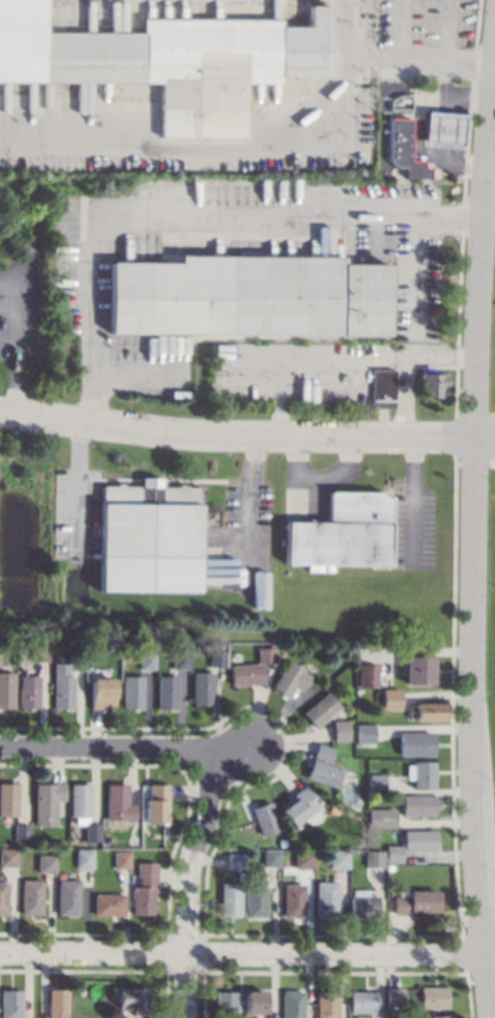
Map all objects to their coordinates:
parking lot: (427, 26)
road: (400, 32)
road: (447, 32)
building: (169, 60)
road: (388, 63)
building: (398, 103)
building: (442, 129)
road: (214, 145)
building: (402, 149)
road: (488, 207)
road: (265, 215)
road: (449, 218)
road: (417, 277)
building: (248, 296)
road: (85, 311)
road: (15, 346)
road: (305, 358)
road: (402, 358)
road: (442, 358)
building: (431, 384)
building: (382, 388)
road: (410, 396)
road: (246, 434)
road: (320, 475)
road: (78, 482)
road: (415, 495)
building: (342, 533)
road: (472, 535)
building: (148, 537)
building: (37, 653)
building: (264, 655)
building: (215, 658)
building: (144, 659)
building: (178, 660)
building: (74, 661)
building: (417, 670)
building: (246, 675)
building: (367, 675)
building: (288, 677)
building: (60, 686)
building: (201, 687)
building: (5, 690)
building: (25, 690)
building: (131, 692)
building: (166, 692)
building: (100, 693)
building: (389, 699)
building: (320, 709)
building: (427, 711)
building: (339, 730)
building: (363, 733)
building: (414, 744)
road: (234, 745)
road: (112, 747)
building: (322, 768)
building: (421, 774)
building: (375, 784)
building: (8, 798)
building: (79, 799)
building: (46, 801)
building: (118, 802)
building: (299, 805)
building: (418, 805)
building: (155, 806)
building: (264, 818)
building: (381, 818)
building: (21, 832)
building: (92, 832)
building: (419, 840)
building: (283, 851)
building: (393, 853)
building: (8, 857)
building: (270, 857)
building: (83, 858)
building: (373, 858)
building: (121, 859)
building: (338, 859)
building: (303, 860)
building: (234, 861)
building: (45, 863)
building: (388, 866)
building: (58, 874)
building: (240, 876)
road: (186, 879)
building: (143, 889)
building: (31, 897)
building: (68, 897)
building: (3, 898)
building: (229, 899)
building: (326, 899)
building: (255, 901)
building: (293, 901)
building: (414, 901)
building: (108, 904)
building: (362, 904)
road: (247, 954)
building: (394, 997)
building: (131, 998)
building: (433, 998)
building: (363, 1001)
building: (255, 1002)
building: (60, 1003)
building: (326, 1003)
building: (12, 1004)
building: (225, 1004)
building: (292, 1004)
building: (438, 1017)

